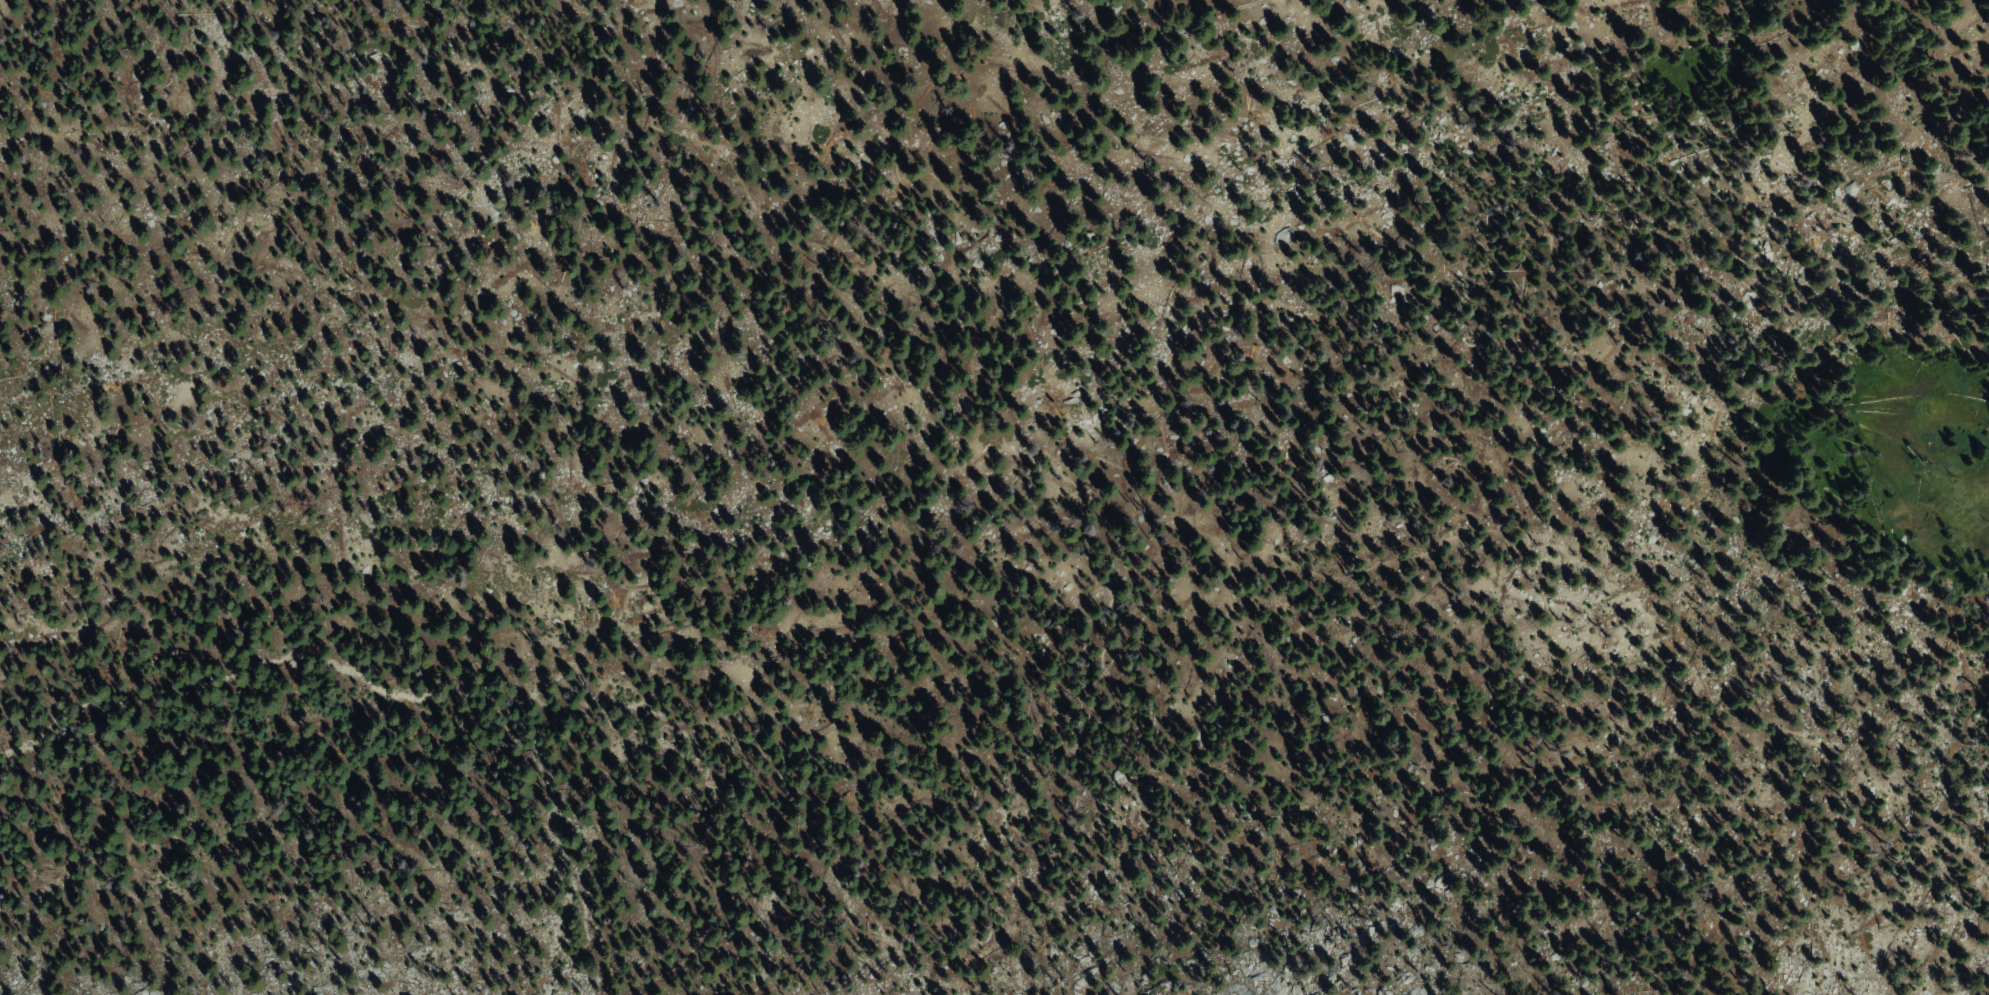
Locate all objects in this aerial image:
road: (1045, 462)

